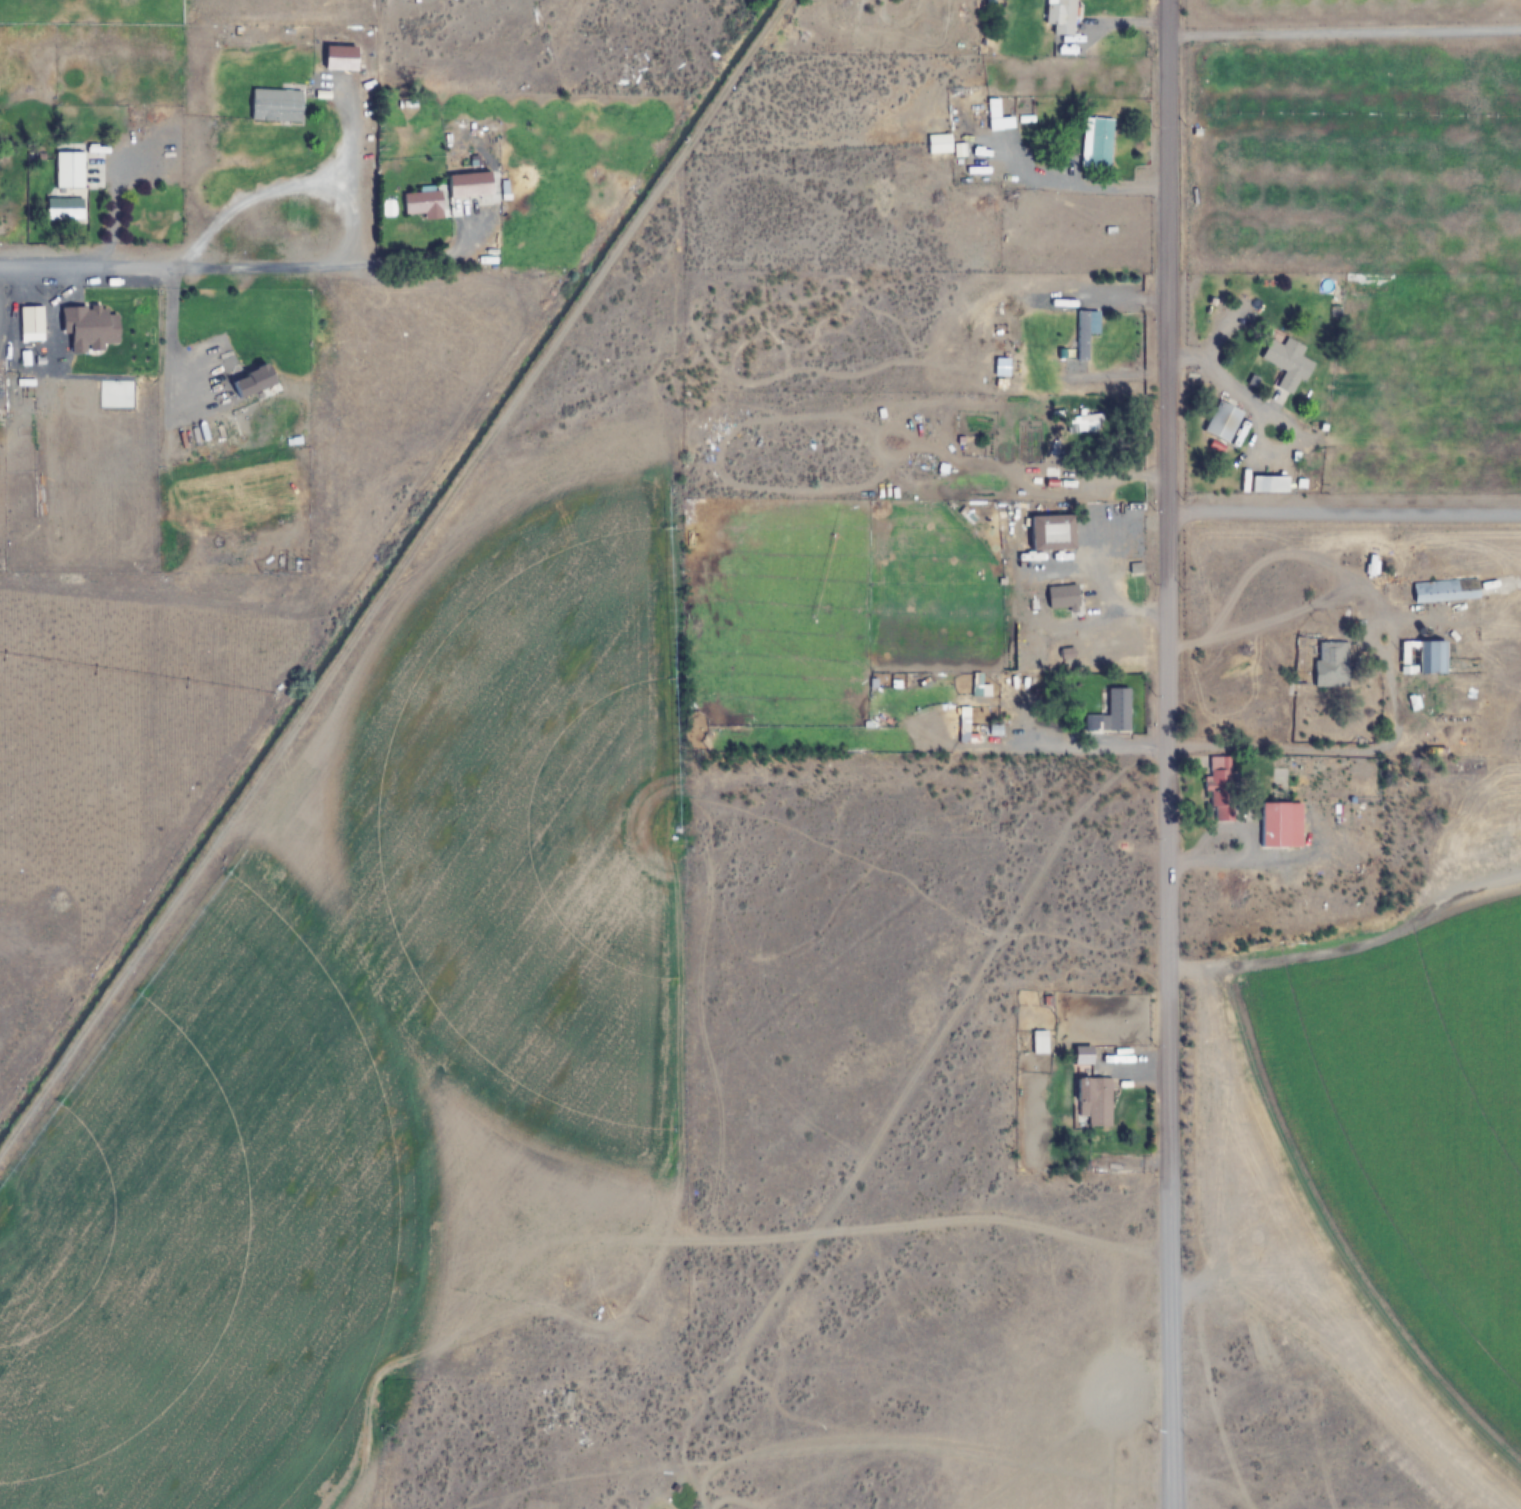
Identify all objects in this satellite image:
building: (1061, 16)
road: (1346, 33)
building: (341, 58)
building: (274, 105)
building: (995, 116)
building: (1027, 123)
building: (1098, 143)
building: (942, 146)
building: (68, 170)
building: (469, 184)
building: (568, 184)
building: (422, 202)
building: (65, 208)
road: (166, 258)
building: (1084, 335)
building: (1286, 363)
building: (253, 382)
building: (1000, 384)
building: (1221, 421)
building: (1074, 423)
building: (1268, 484)
road: (1345, 509)
building: (995, 512)
building: (1047, 533)
building: (280, 559)
building: (1444, 590)
building: (1421, 657)
building: (1331, 664)
building: (1118, 710)
building: (996, 731)
crop: (1397, 753)
road: (1170, 754)
building: (1221, 790)
building: (1278, 825)
building: (1040, 1042)
building: (1093, 1100)

